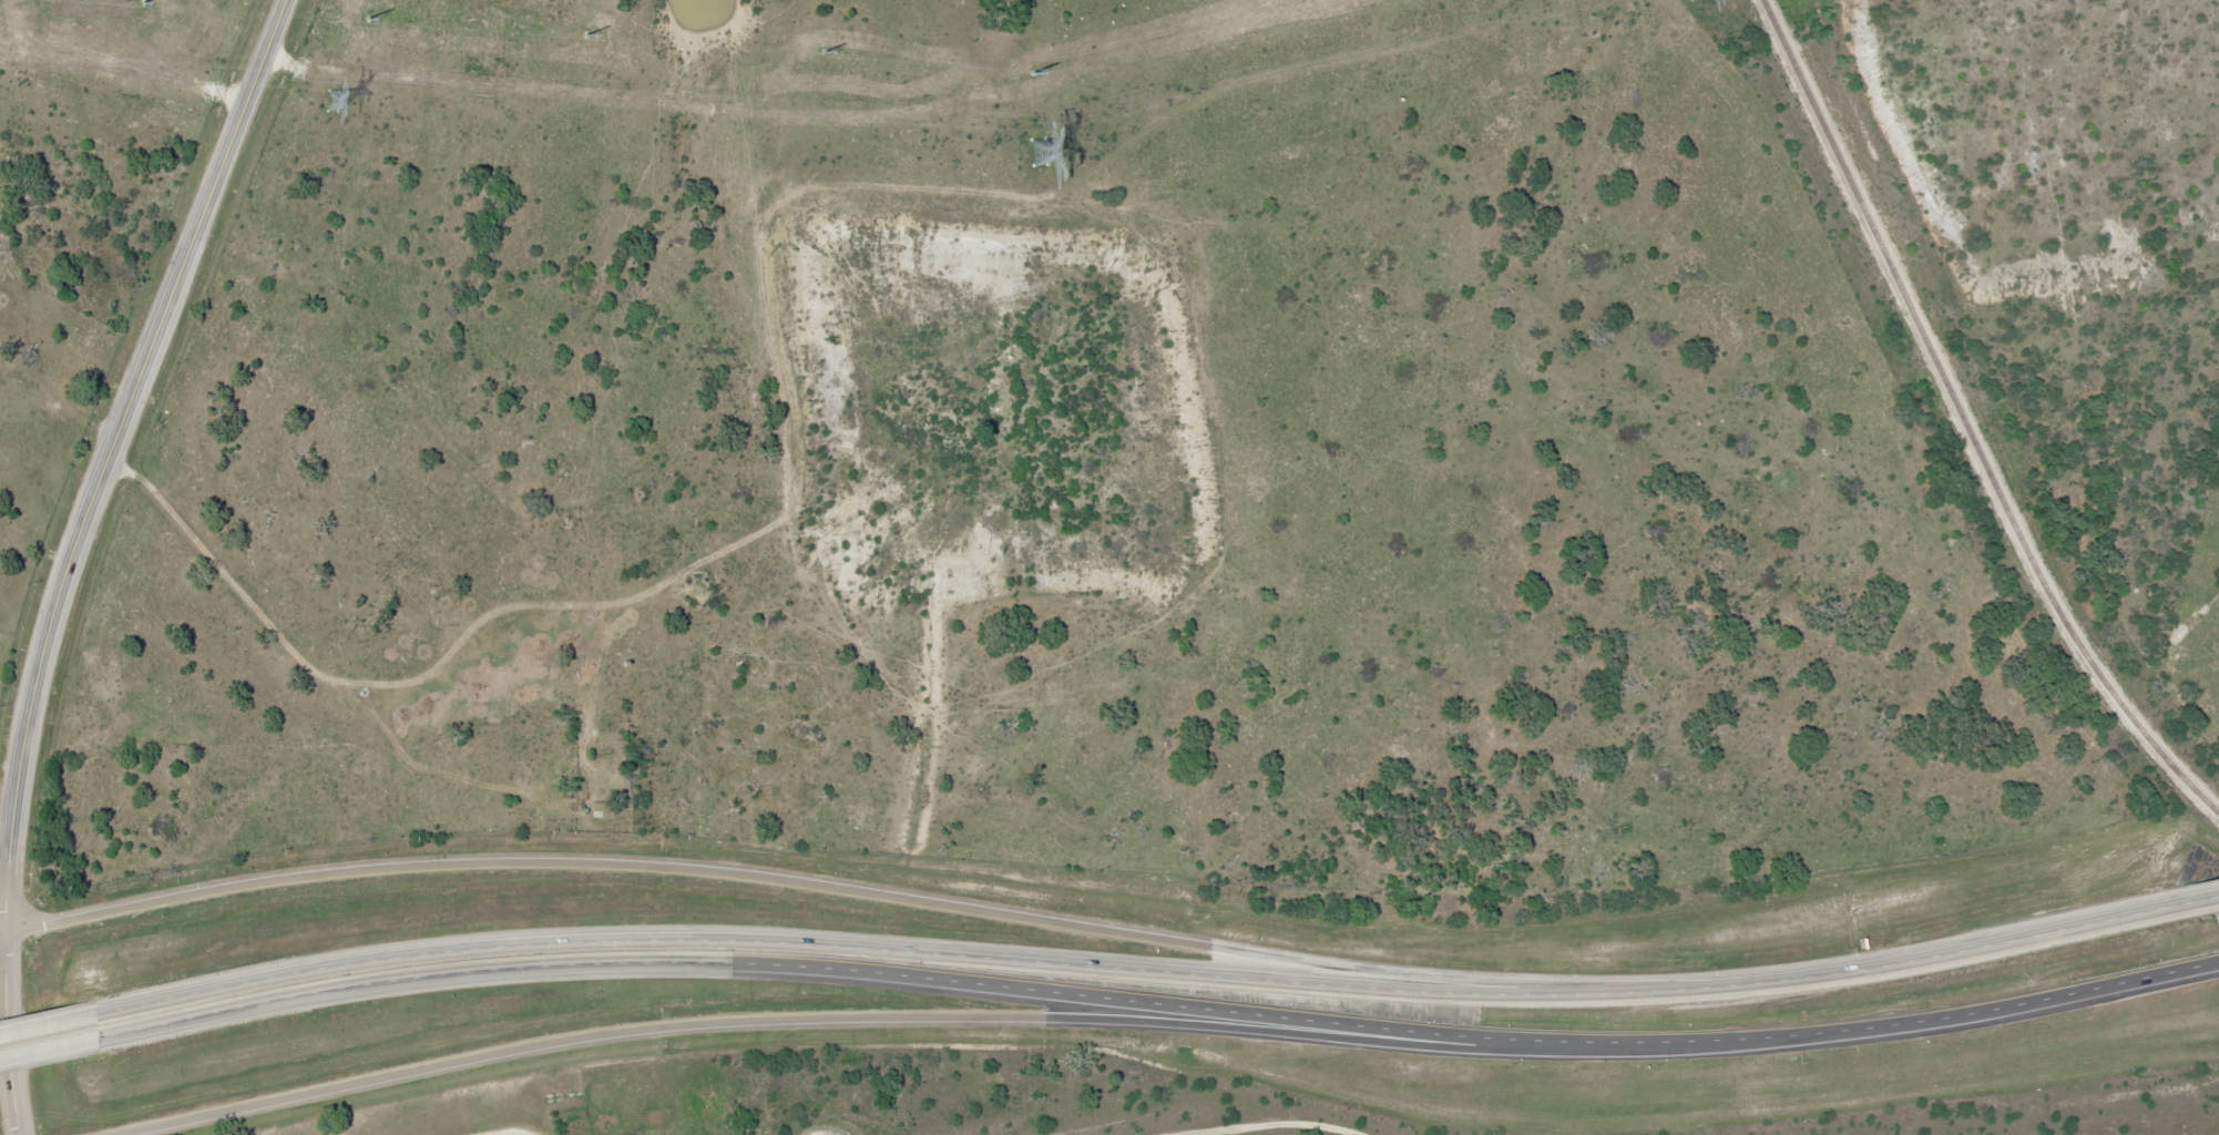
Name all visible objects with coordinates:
power tower: (334, 100)
power tower: (1036, 153)
railway: (1966, 421)
road: (113, 457)
road: (6, 882)
road: (860, 891)
road: (2215, 899)
road: (4, 931)
road: (1155, 972)
road: (1157, 1005)
road: (882, 1018)
road: (49, 1025)
road: (10, 1033)
road: (49, 1049)
road: (514, 1133)

